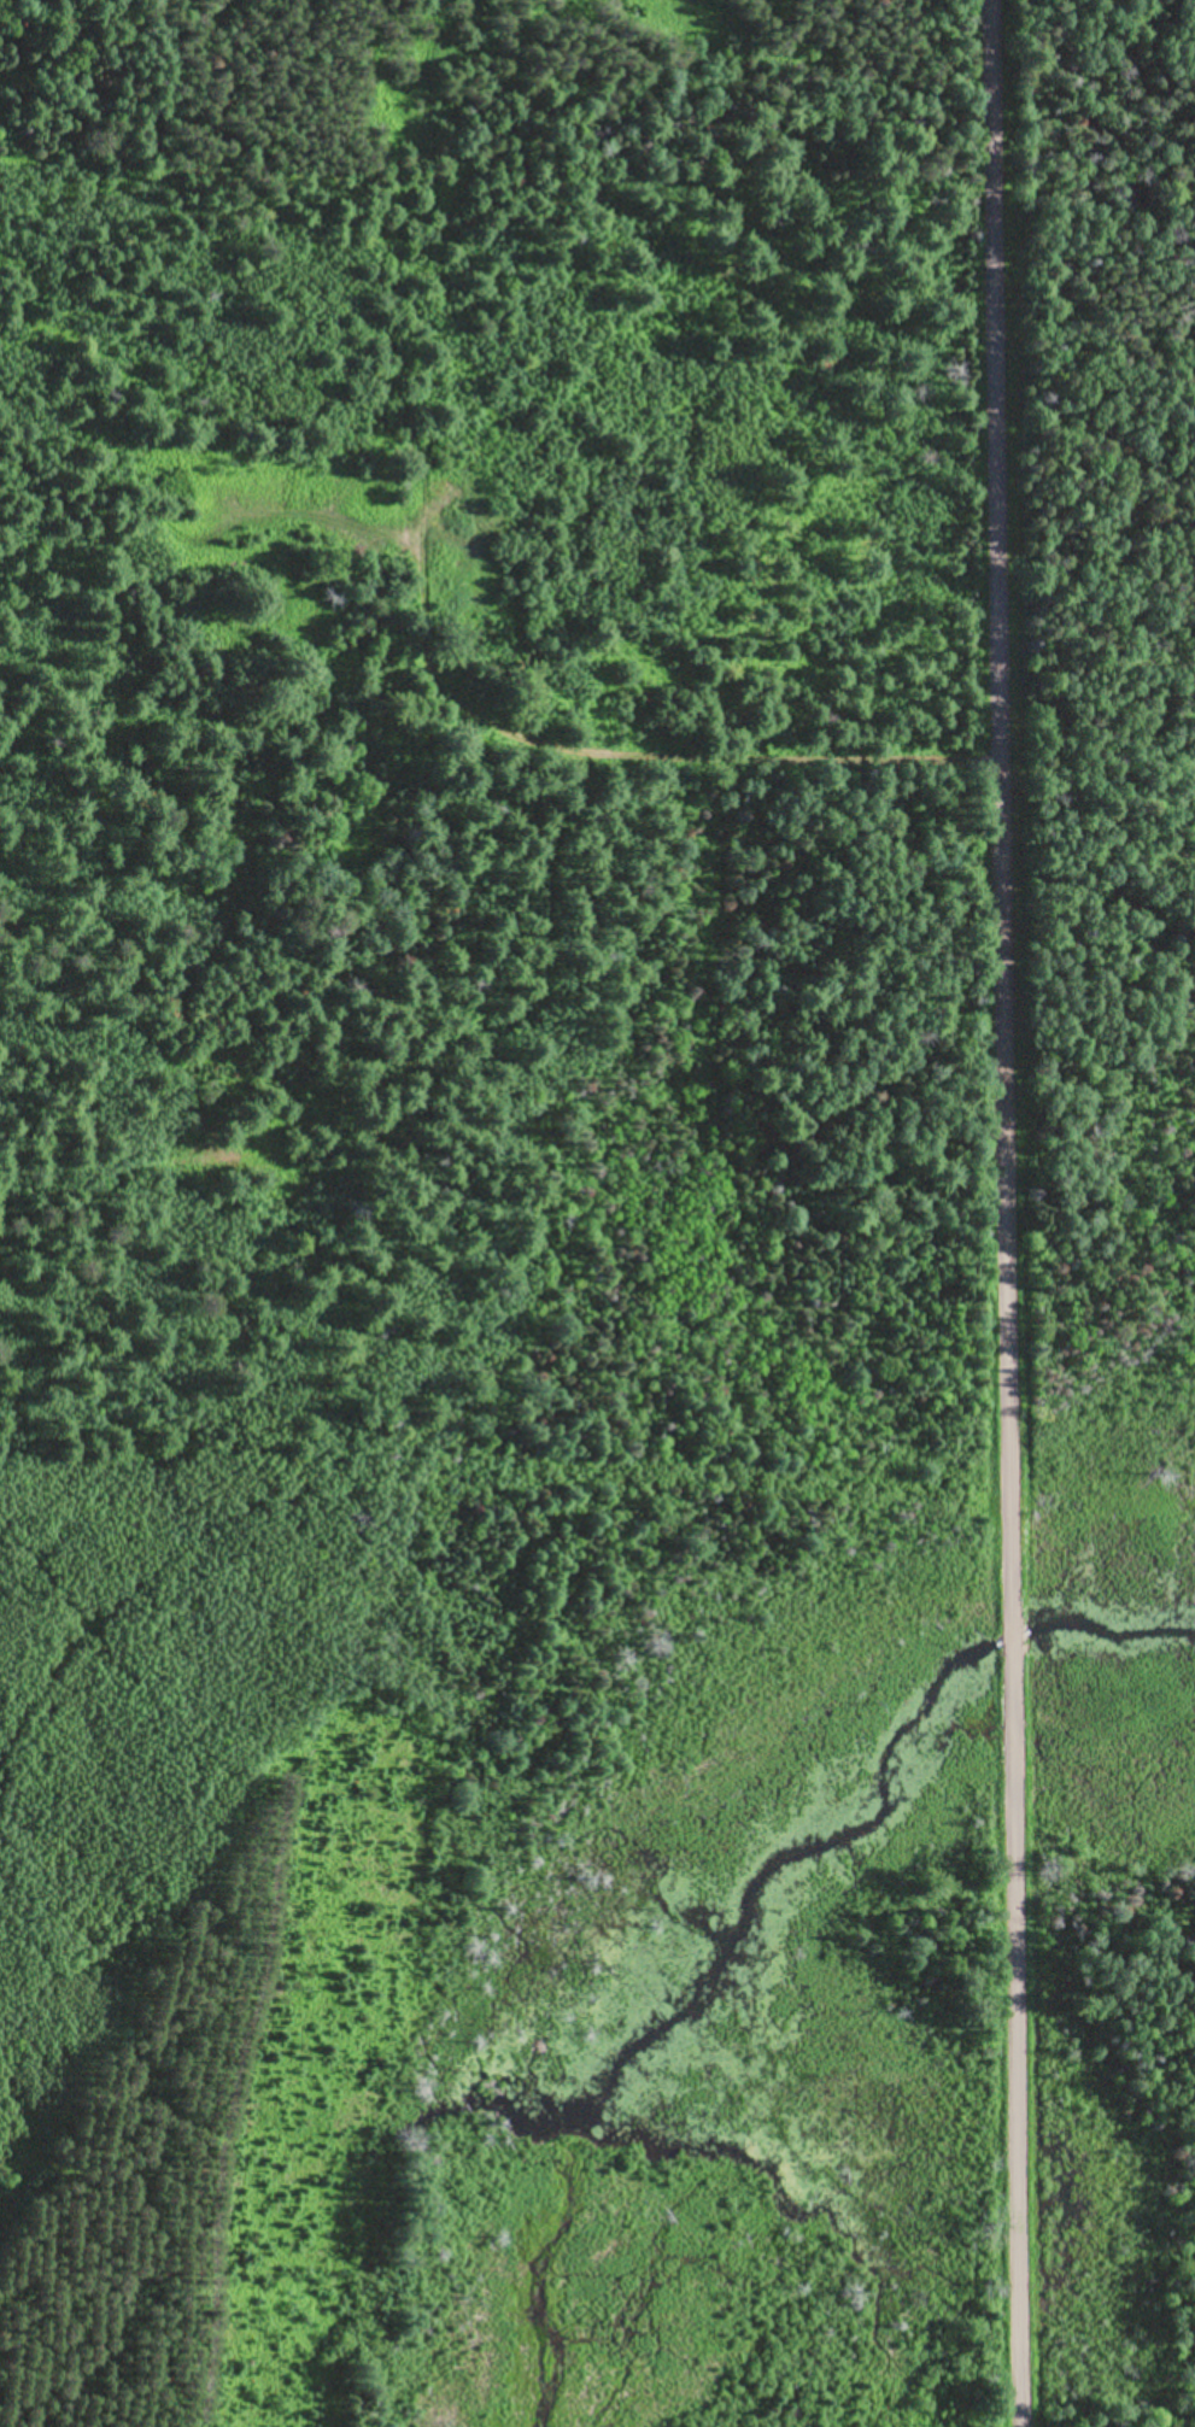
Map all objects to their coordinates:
road: (1006, 388)
road: (580, 746)
road: (1025, 1601)

